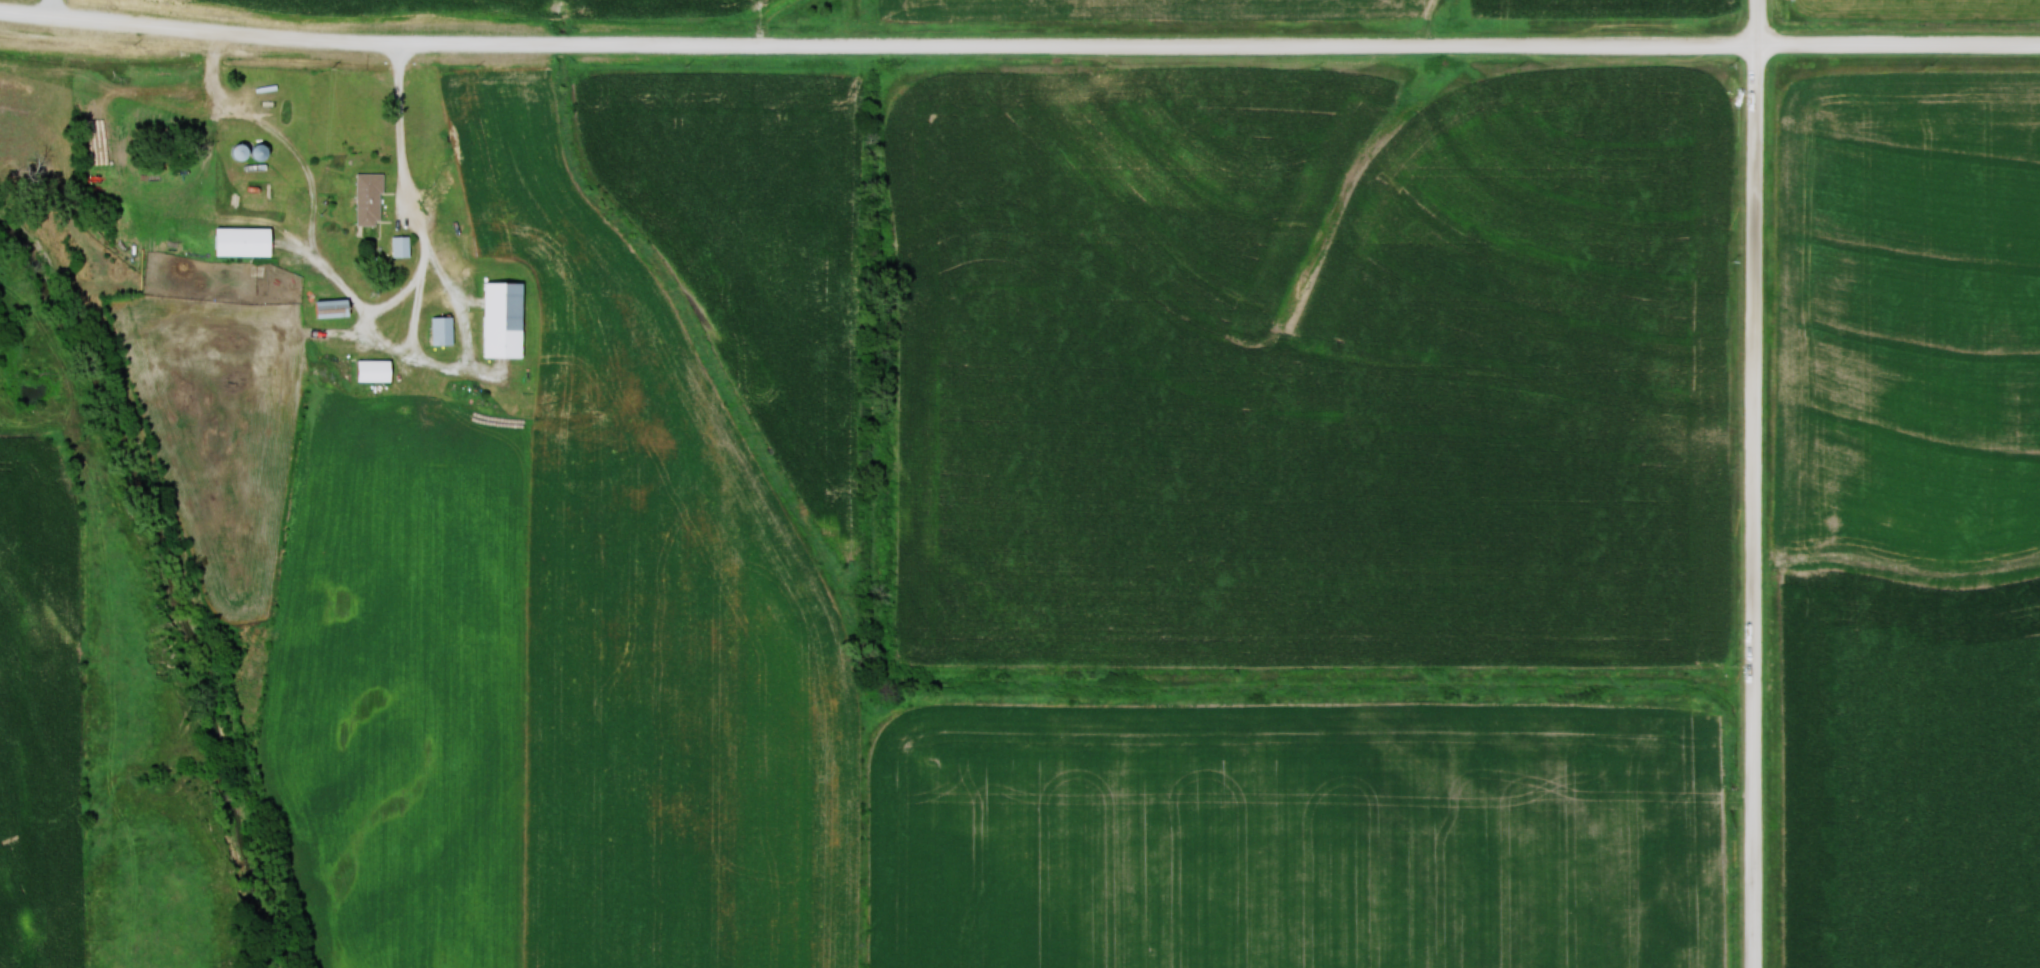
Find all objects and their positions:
road: (135, 16)
road: (1019, 49)
road: (406, 165)
road: (308, 170)
building: (371, 199)
building: (247, 242)
building: (403, 246)
building: (337, 309)
building: (506, 319)
building: (444, 330)
road: (404, 351)
building: (378, 371)
road: (1756, 483)

